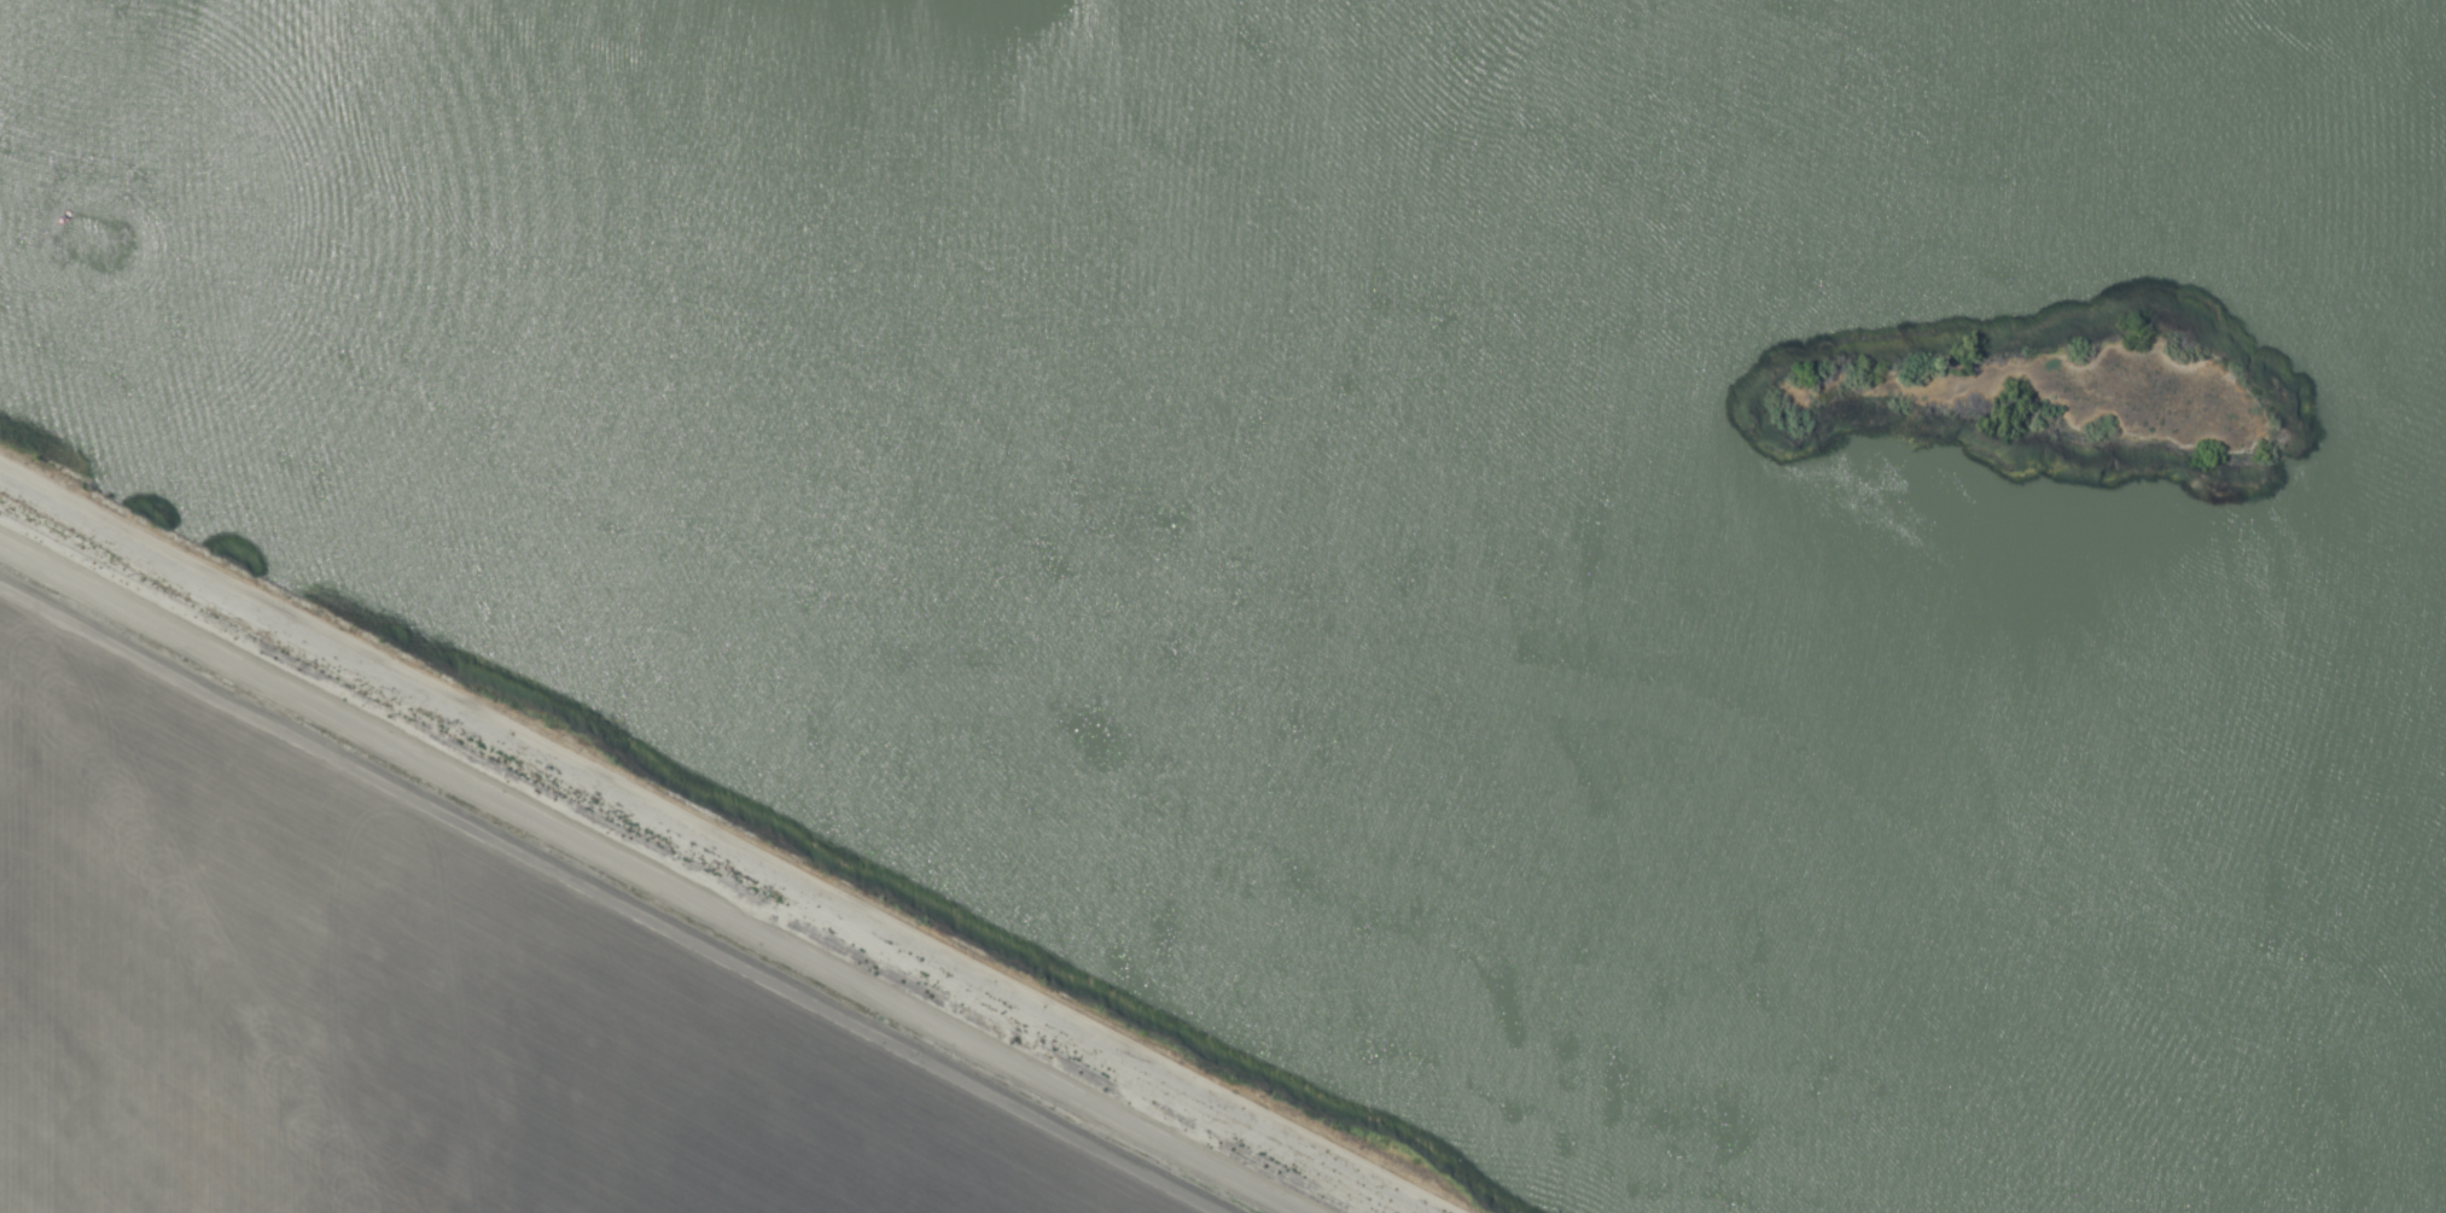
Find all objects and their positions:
crop: (531, 944)

